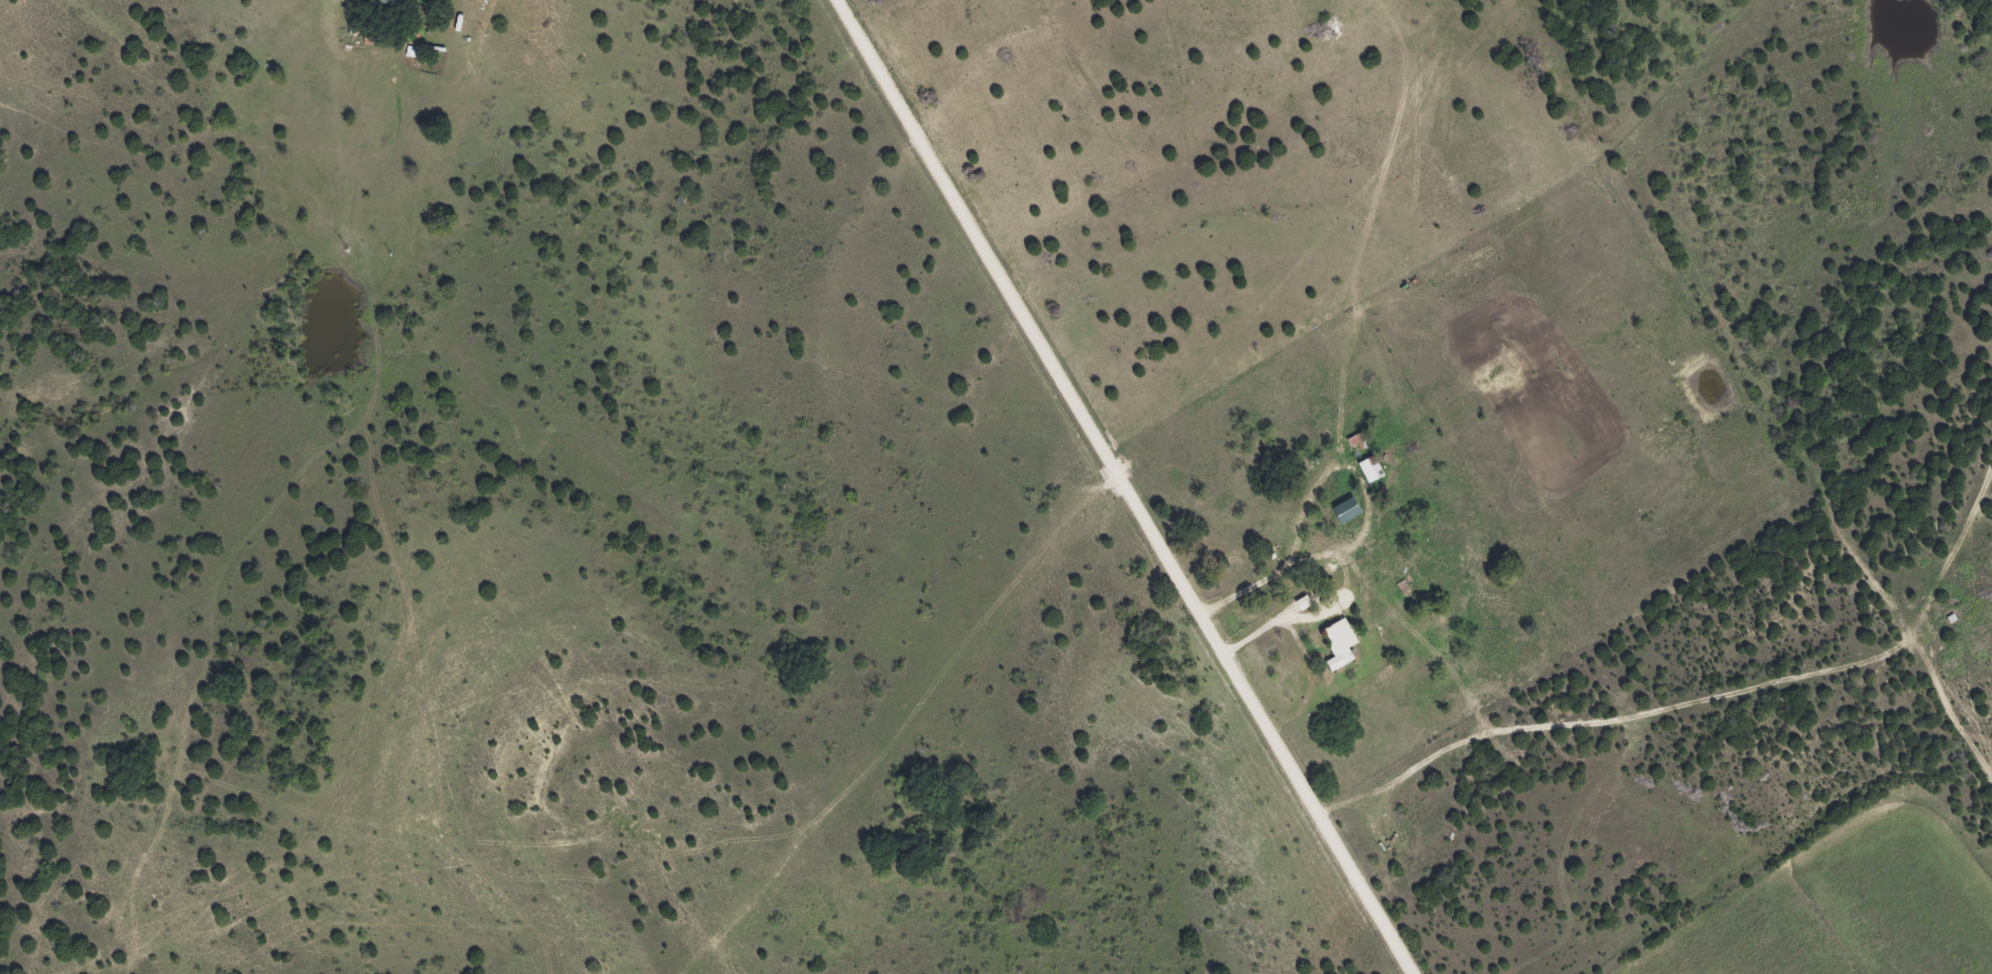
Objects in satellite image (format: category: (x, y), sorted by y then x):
building: (390, 2)
building: (1358, 441)
building: (1372, 467)
road: (1128, 487)
building: (1338, 646)

